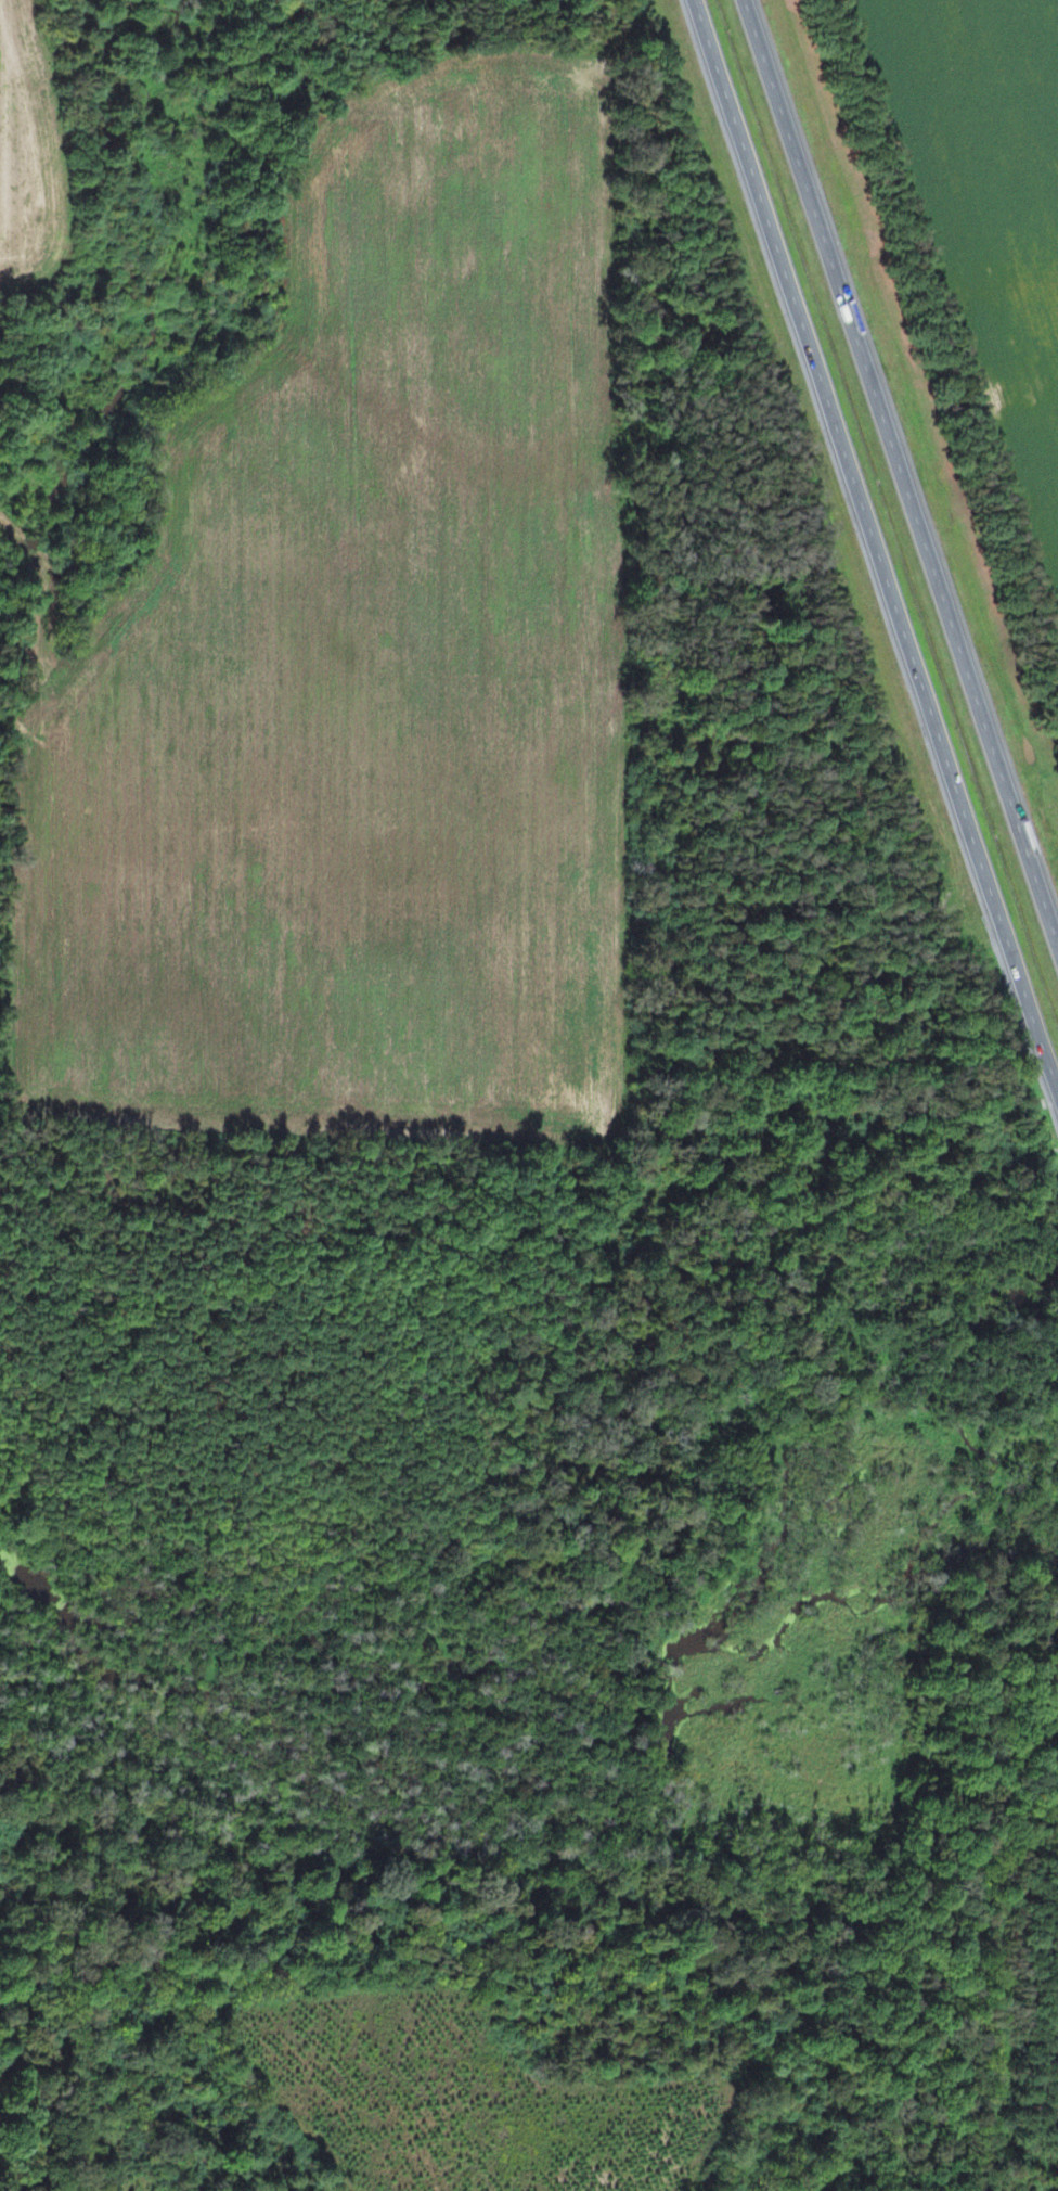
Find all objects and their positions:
road: (902, 473)
road: (877, 544)
crop: (354, 672)

